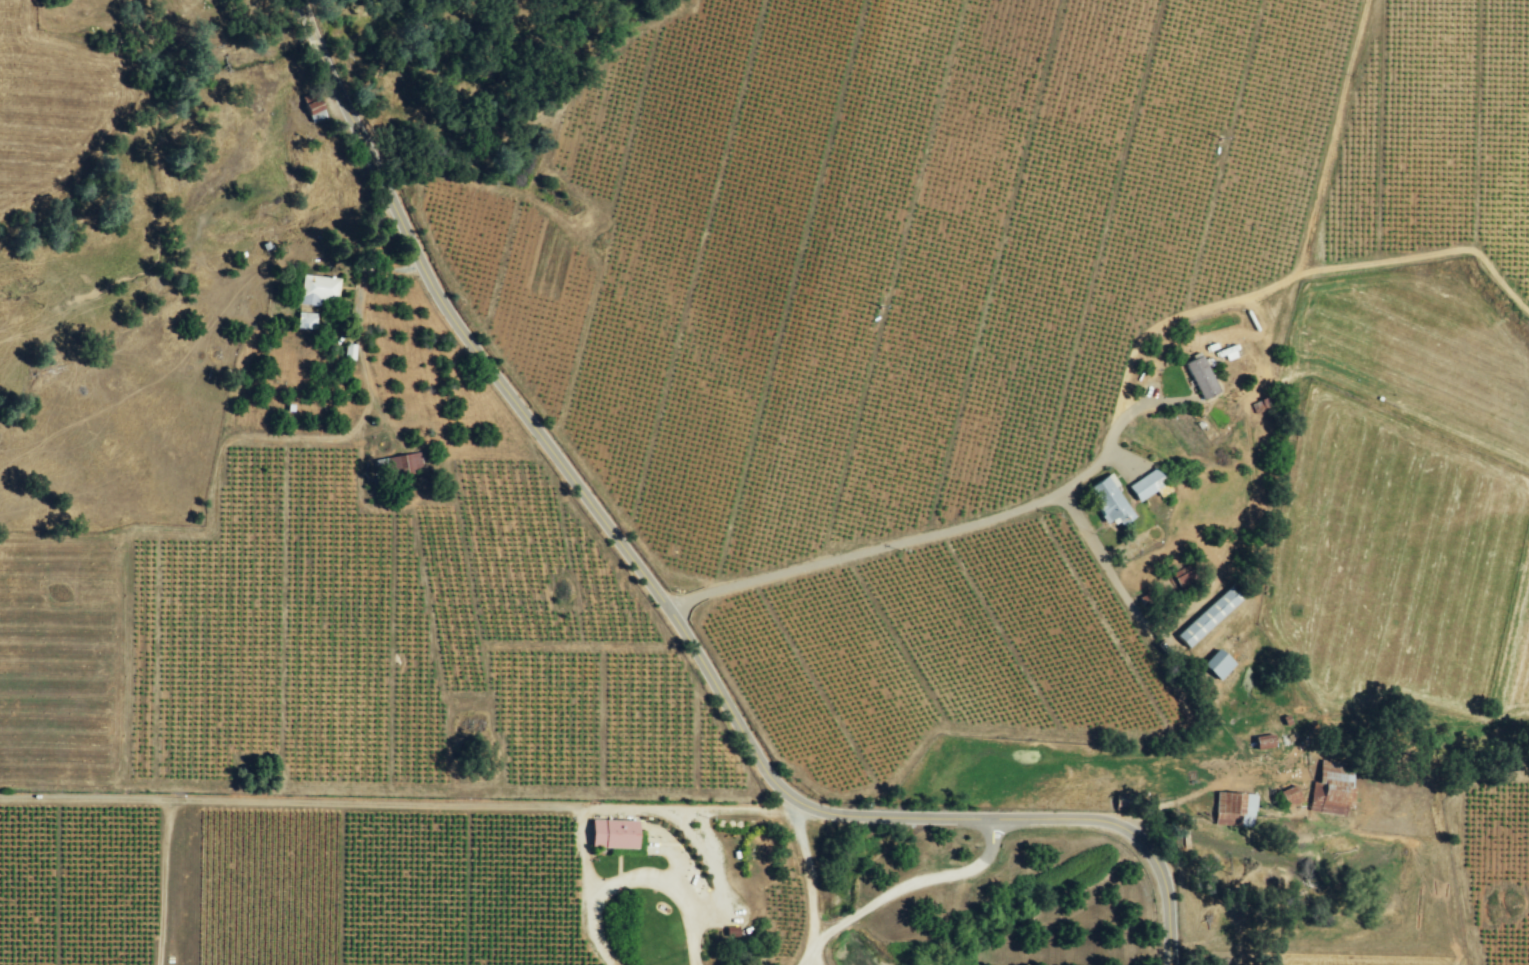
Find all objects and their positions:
building: (310, 109)
building: (316, 289)
building: (305, 321)
road: (358, 332)
building: (348, 352)
building: (1199, 377)
building: (405, 463)
building: (1147, 486)
building: (1107, 500)
road: (927, 529)
road: (1100, 556)
road: (670, 608)
building: (1207, 617)
building: (1216, 665)
building: (1262, 742)
building: (1334, 790)
building: (1289, 796)
road: (606, 810)
building: (1232, 810)
building: (610, 835)
road: (804, 879)
road: (908, 883)
road: (669, 884)
building: (729, 932)
road: (812, 963)
road: (814, 963)

